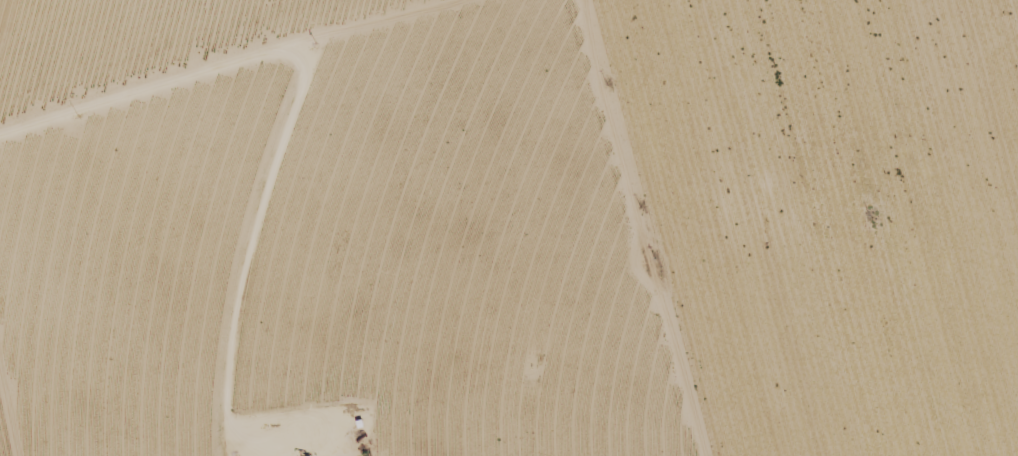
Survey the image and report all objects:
road: (225, 76)
road: (754, 120)

